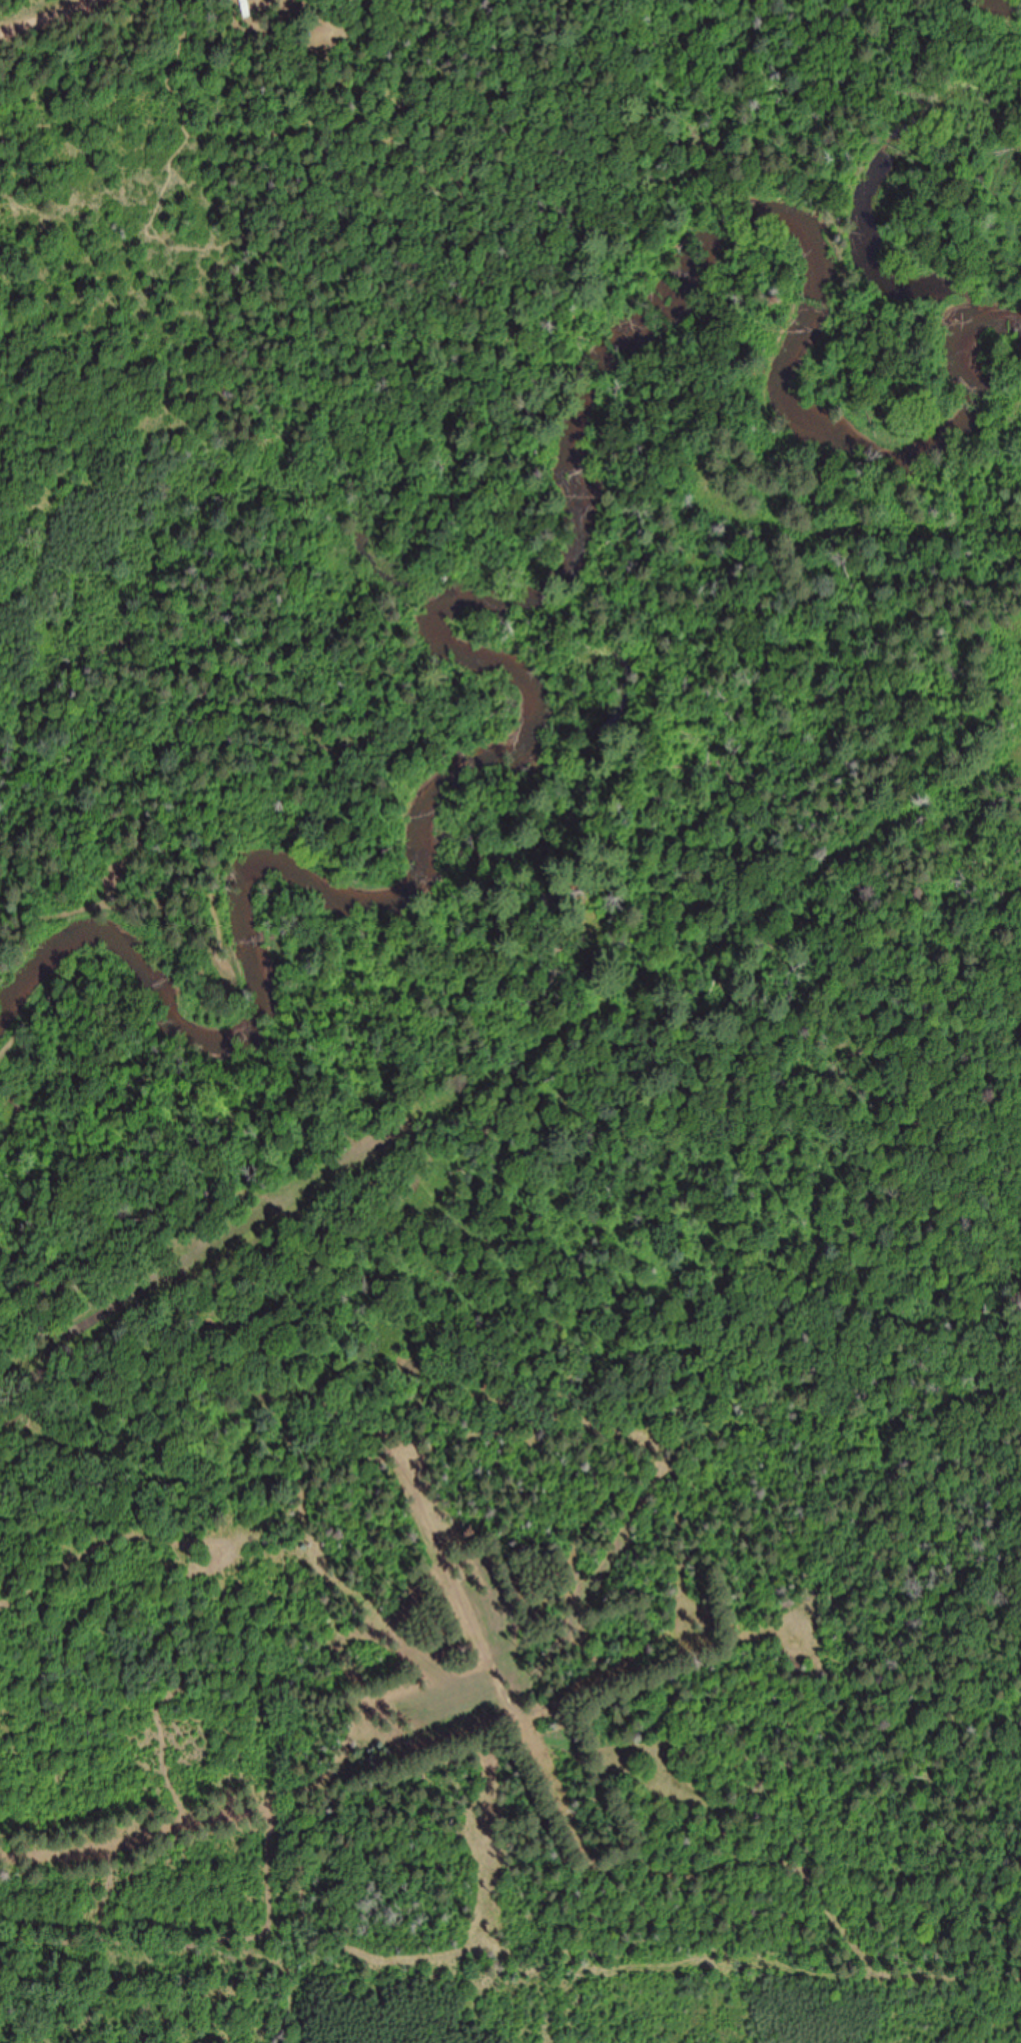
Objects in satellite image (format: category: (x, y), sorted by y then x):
road: (32, 11)
river: (591, 381)
building: (556, 901)

